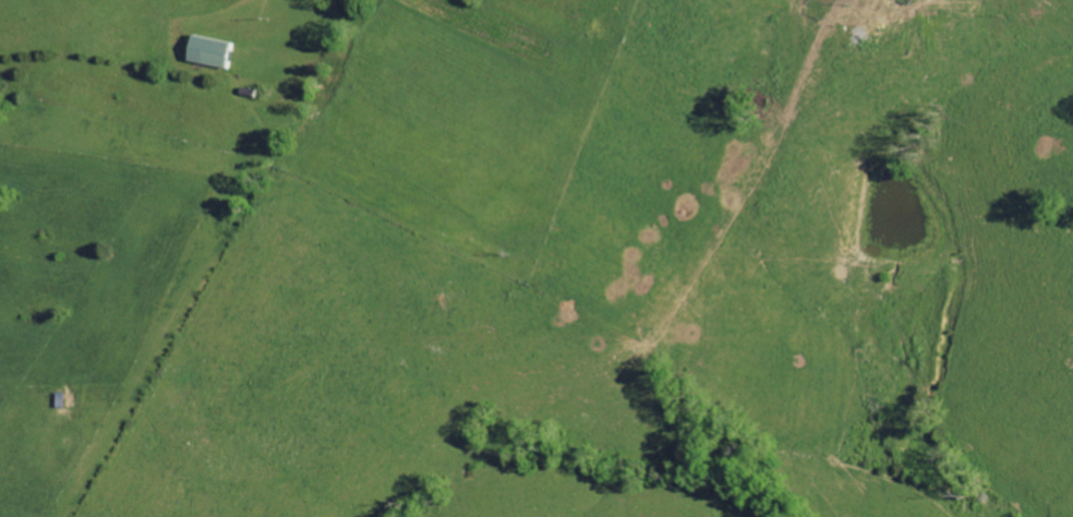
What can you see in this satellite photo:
building: (216, 51)

